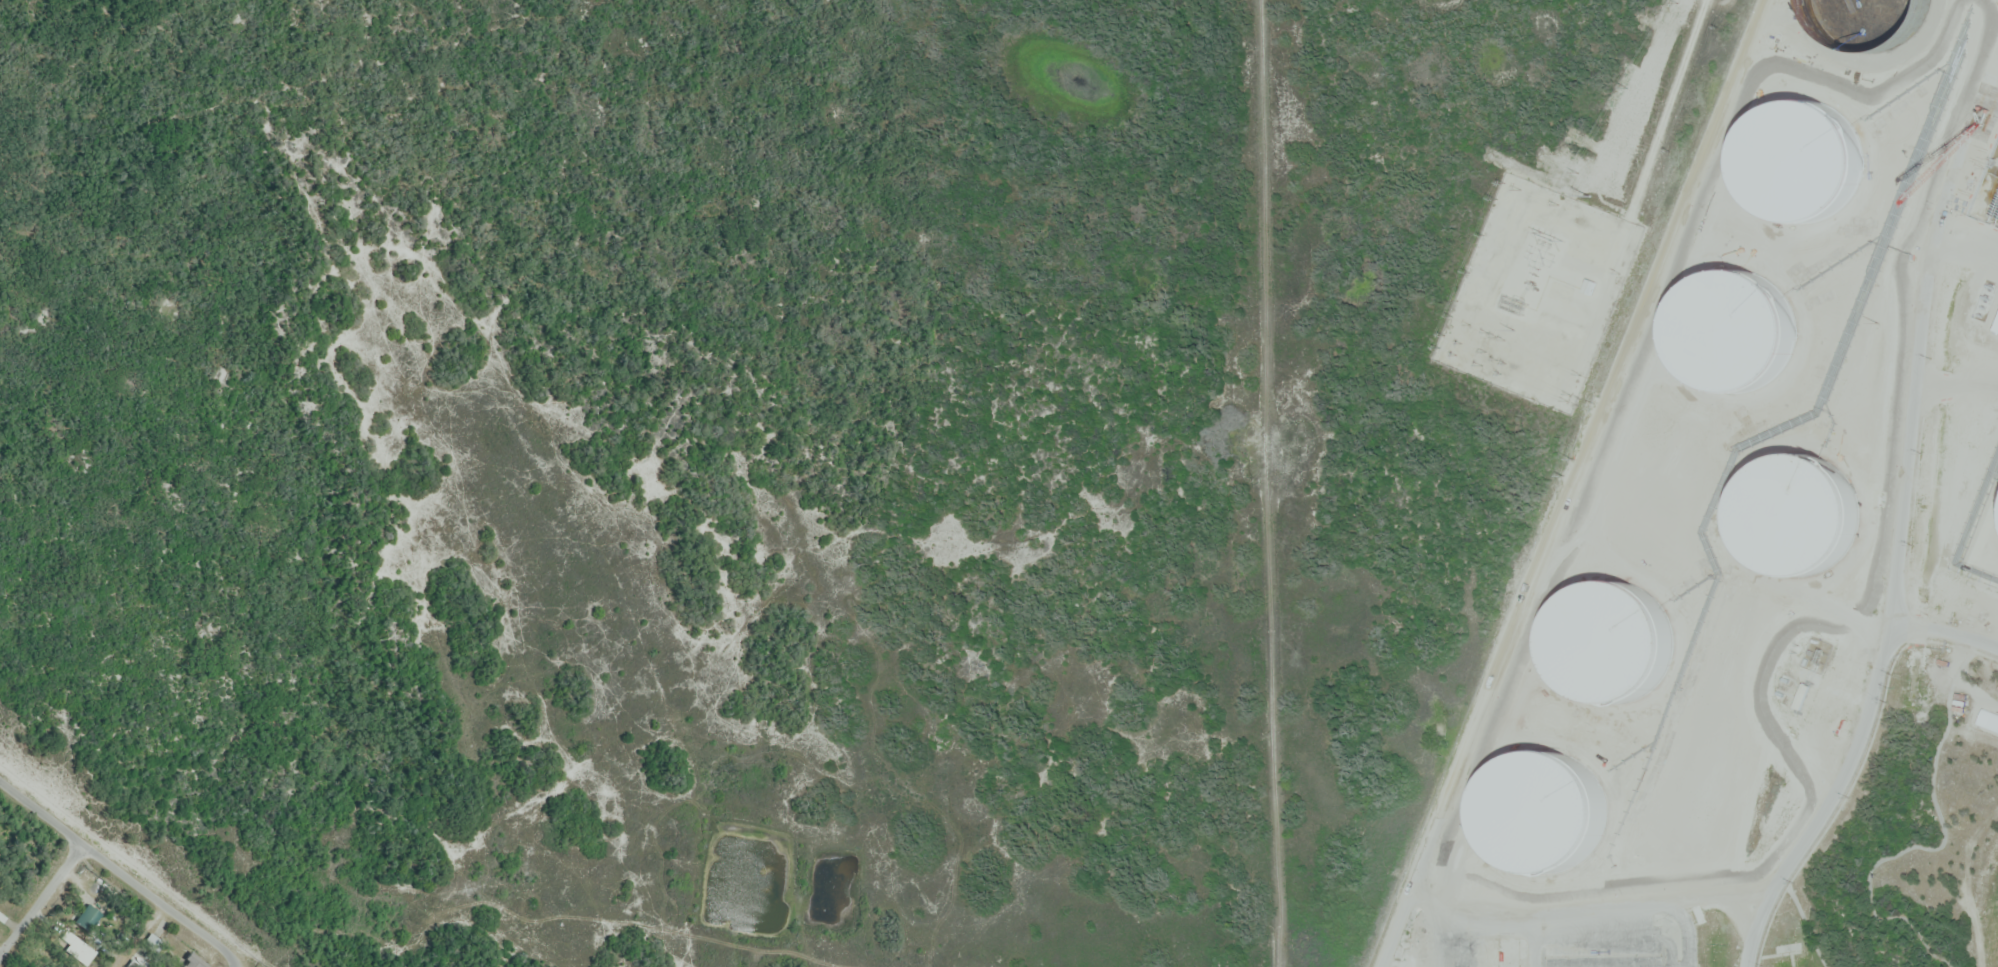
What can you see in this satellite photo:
road: (1671, 110)
power substation: (1538, 292)
road: (1899, 524)
road: (1944, 631)
building: (1548, 758)
road: (120, 869)
road: (42, 897)
building: (1698, 913)
building: (1462, 939)
building: (152, 942)
building: (1508, 952)
building: (191, 961)
road: (234, 966)

